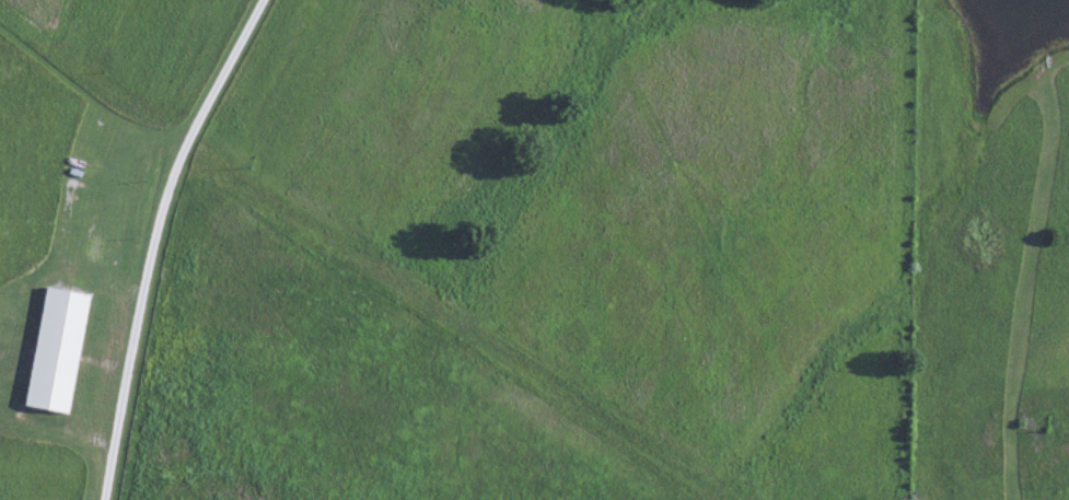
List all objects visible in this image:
road: (158, 240)
building: (60, 347)

